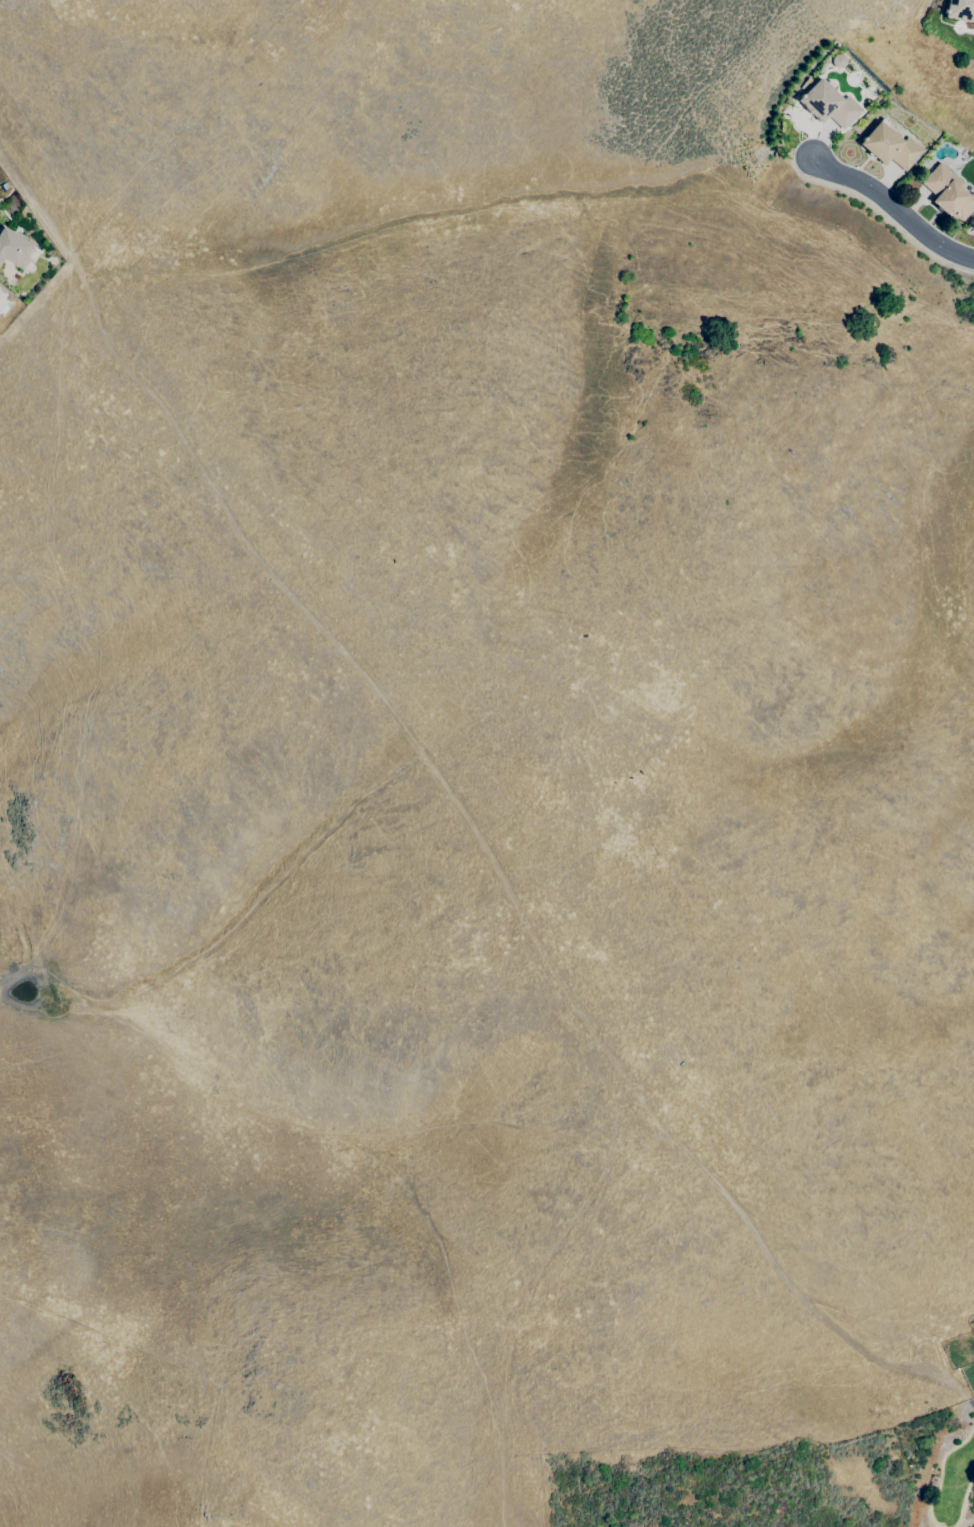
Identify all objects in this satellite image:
building: (960, 10)
building: (828, 104)
building: (890, 146)
building: (948, 193)
road: (896, 208)
road: (881, 215)
building: (14, 248)

